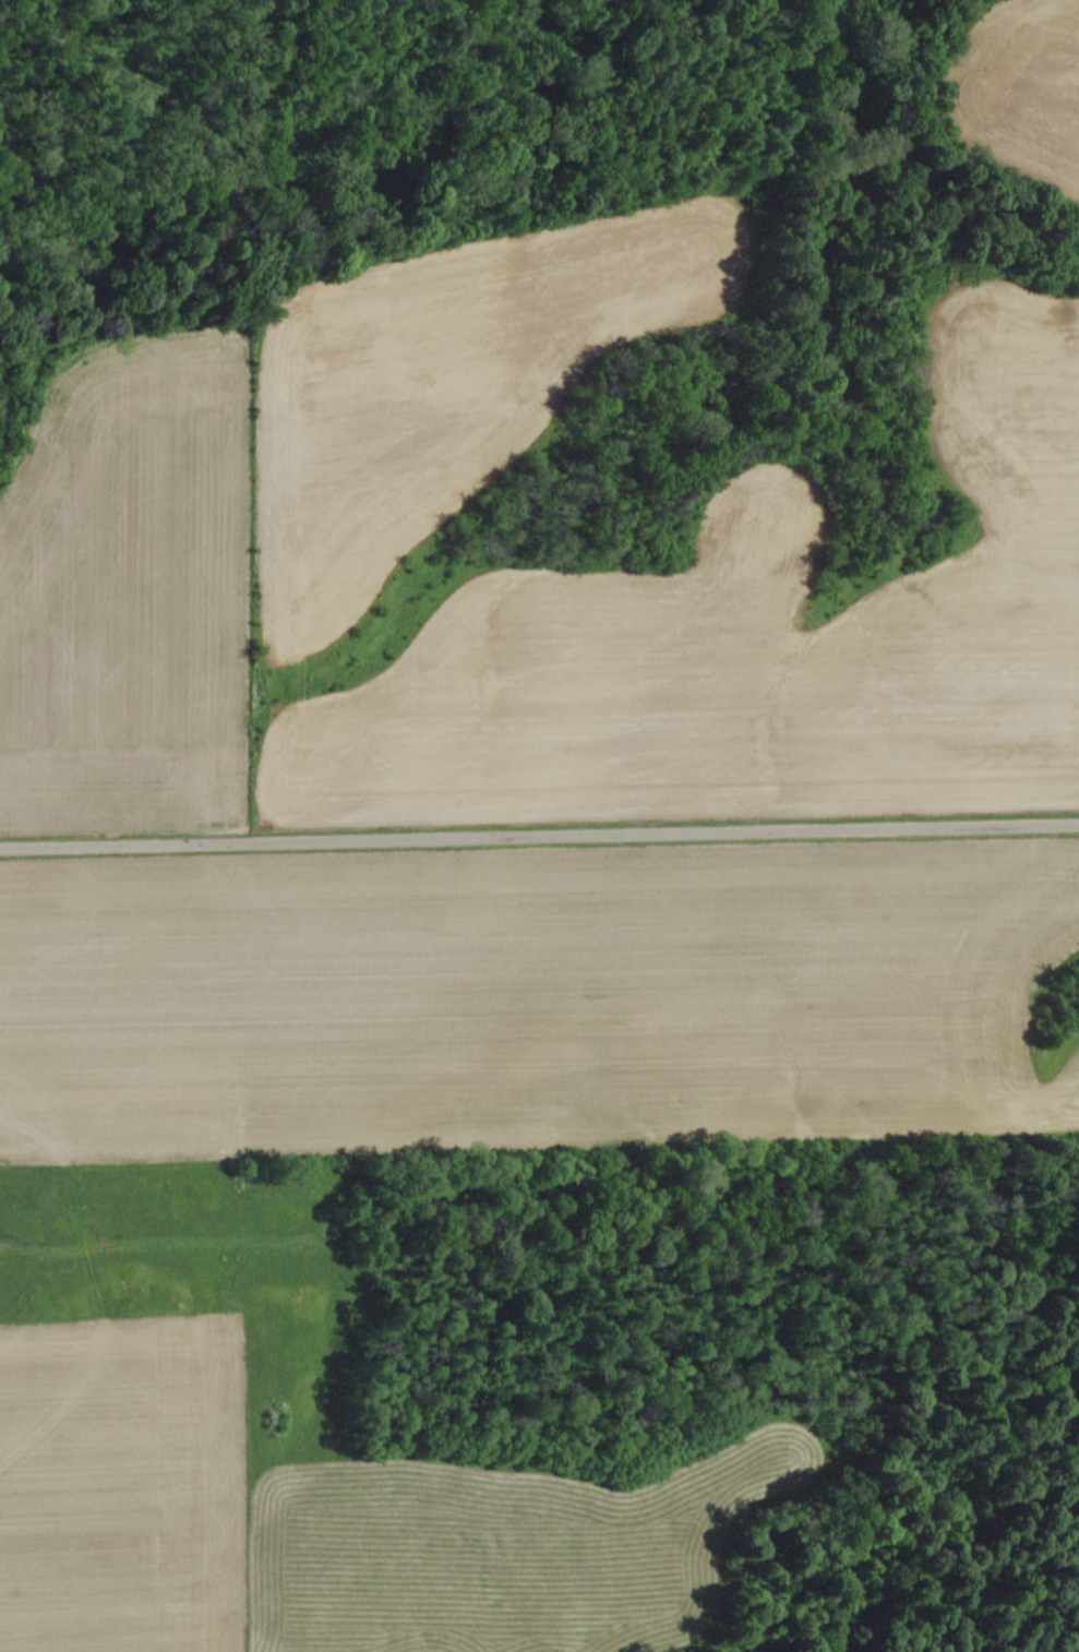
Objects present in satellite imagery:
road: (539, 836)

